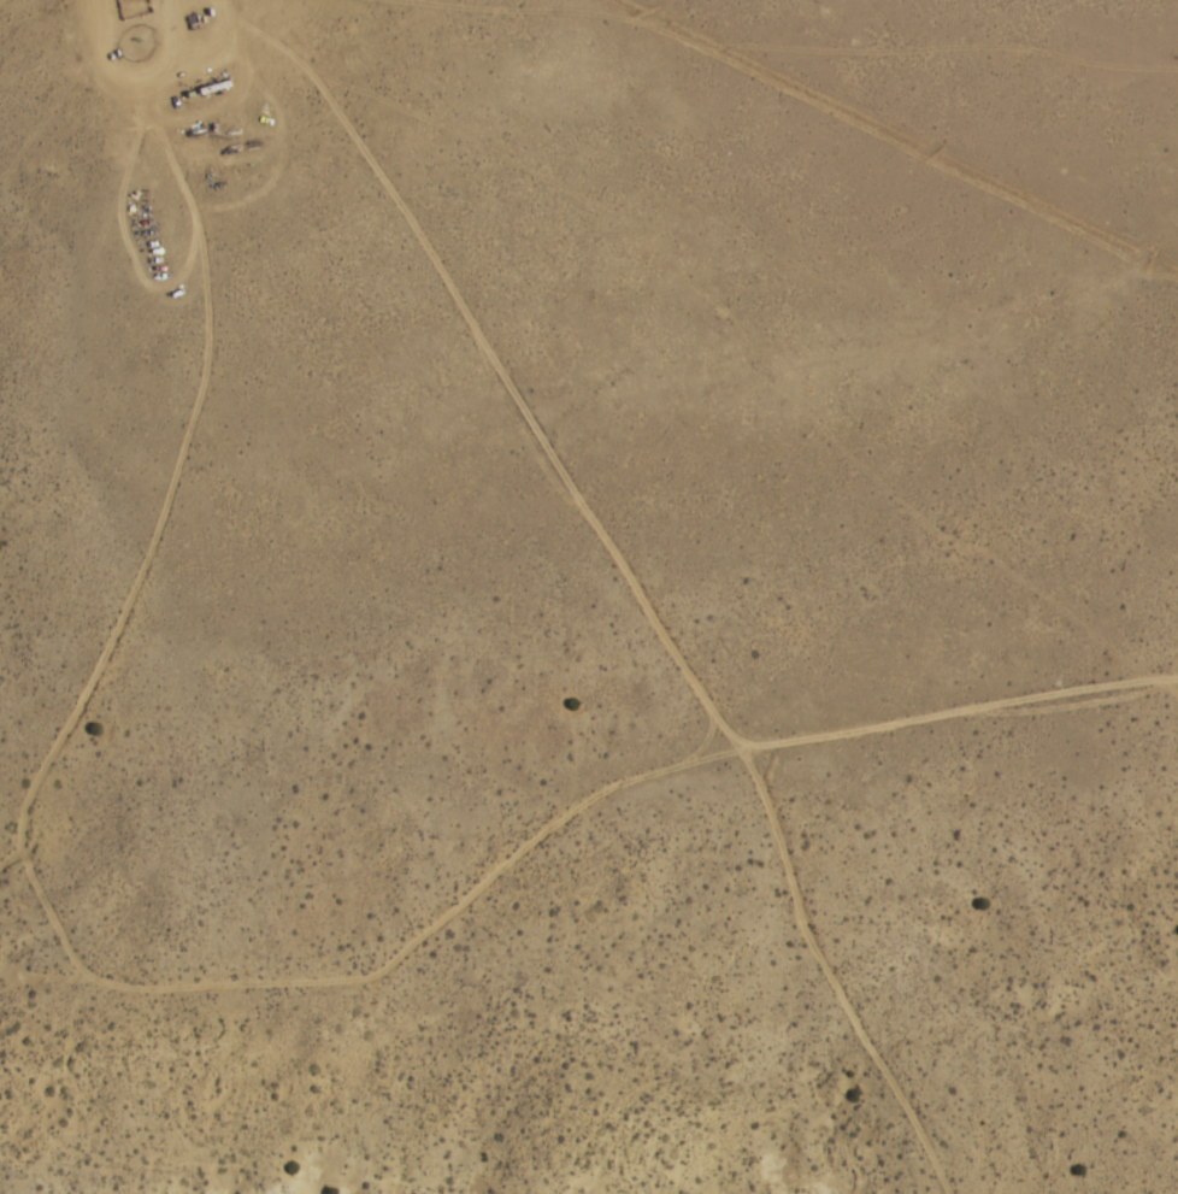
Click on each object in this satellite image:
road: (1174, 1)

